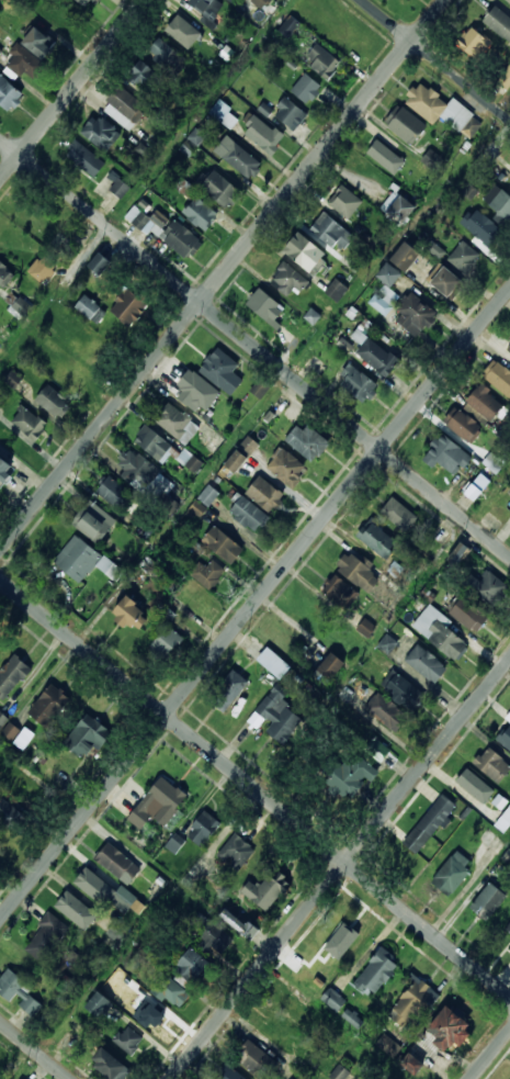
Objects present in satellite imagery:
building: (228, 0)
building: (233, 0)
building: (507, 1)
building: (81, 2)
building: (87, 2)
building: (260, 3)
building: (204, 8)
building: (314, 14)
building: (498, 23)
building: (288, 26)
building: (182, 33)
building: (471, 45)
building: (0, 50)
building: (29, 53)
building: (166, 58)
road: (437, 59)
building: (320, 63)
building: (141, 76)
building: (503, 80)
road: (73, 90)
building: (305, 90)
building: (9, 94)
building: (124, 109)
building: (440, 111)
building: (224, 114)
building: (287, 115)
building: (404, 125)
building: (100, 134)
building: (260, 135)
building: (196, 136)
building: (393, 158)
building: (83, 159)
building: (432, 159)
building: (240, 161)
building: (509, 183)
building: (120, 188)
building: (218, 190)
building: (469, 191)
building: (347, 205)
building: (499, 205)
building: (398, 211)
building: (197, 214)
building: (478, 227)
building: (330, 234)
building: (179, 240)
building: (435, 249)
building: (302, 254)
building: (401, 258)
building: (463, 259)
building: (99, 262)
building: (41, 269)
road: (223, 276)
building: (4, 277)
building: (286, 281)
building: (444, 285)
building: (336, 290)
building: (378, 305)
building: (20, 307)
building: (126, 307)
building: (263, 307)
building: (89, 310)
building: (311, 316)
building: (412, 316)
road: (254, 346)
building: (508, 349)
building: (88, 350)
building: (376, 359)
building: (219, 371)
building: (66, 376)
building: (13, 378)
building: (497, 379)
building: (355, 384)
building: (194, 392)
building: (52, 402)
building: (483, 404)
building: (26, 424)
building: (175, 424)
building: (462, 427)
building: (305, 441)
building: (154, 446)
building: (444, 456)
building: (235, 460)
building: (491, 462)
building: (284, 468)
building: (5, 469)
building: (145, 474)
building: (476, 487)
building: (113, 495)
building: (263, 495)
building: (202, 503)
building: (497, 515)
building: (246, 516)
building: (398, 516)
building: (93, 524)
building: (374, 540)
building: (220, 546)
building: (458, 553)
building: (83, 563)
building: (356, 570)
building: (204, 574)
building: (486, 588)
building: (339, 593)
road: (254, 606)
building: (468, 614)
building: (126, 617)
building: (365, 627)
building: (442, 633)
building: (166, 644)
building: (383, 650)
building: (273, 662)
building: (427, 663)
building: (332, 665)
building: (12, 675)
building: (230, 690)
building: (405, 692)
building: (348, 693)
building: (49, 705)
building: (386, 711)
building: (280, 715)
building: (2, 718)
building: (9, 730)
building: (23, 737)
building: (88, 737)
building: (506, 737)
building: (382, 752)
building: (494, 764)
building: (352, 774)
building: (475, 786)
road: (254, 788)
building: (159, 803)
building: (5, 808)
building: (503, 819)
building: (430, 823)
building: (204, 829)
building: (495, 840)
building: (174, 842)
building: (236, 852)
building: (118, 863)
road: (340, 868)
building: (453, 873)
building: (95, 886)
building: (268, 889)
building: (490, 900)
building: (77, 909)
building: (239, 923)
building: (508, 926)
building: (46, 936)
building: (216, 936)
building: (336, 938)
building: (195, 963)
building: (305, 968)
building: (376, 973)
building: (171, 990)
building: (20, 992)
building: (333, 999)
building: (411, 1002)
building: (100, 1004)
building: (154, 1016)
building: (444, 1035)
building: (128, 1038)
building: (387, 1044)
road: (34, 1050)
road: (490, 1055)
building: (253, 1057)
building: (109, 1064)
building: (410, 1064)
building: (228, 1072)
building: (339, 1072)

